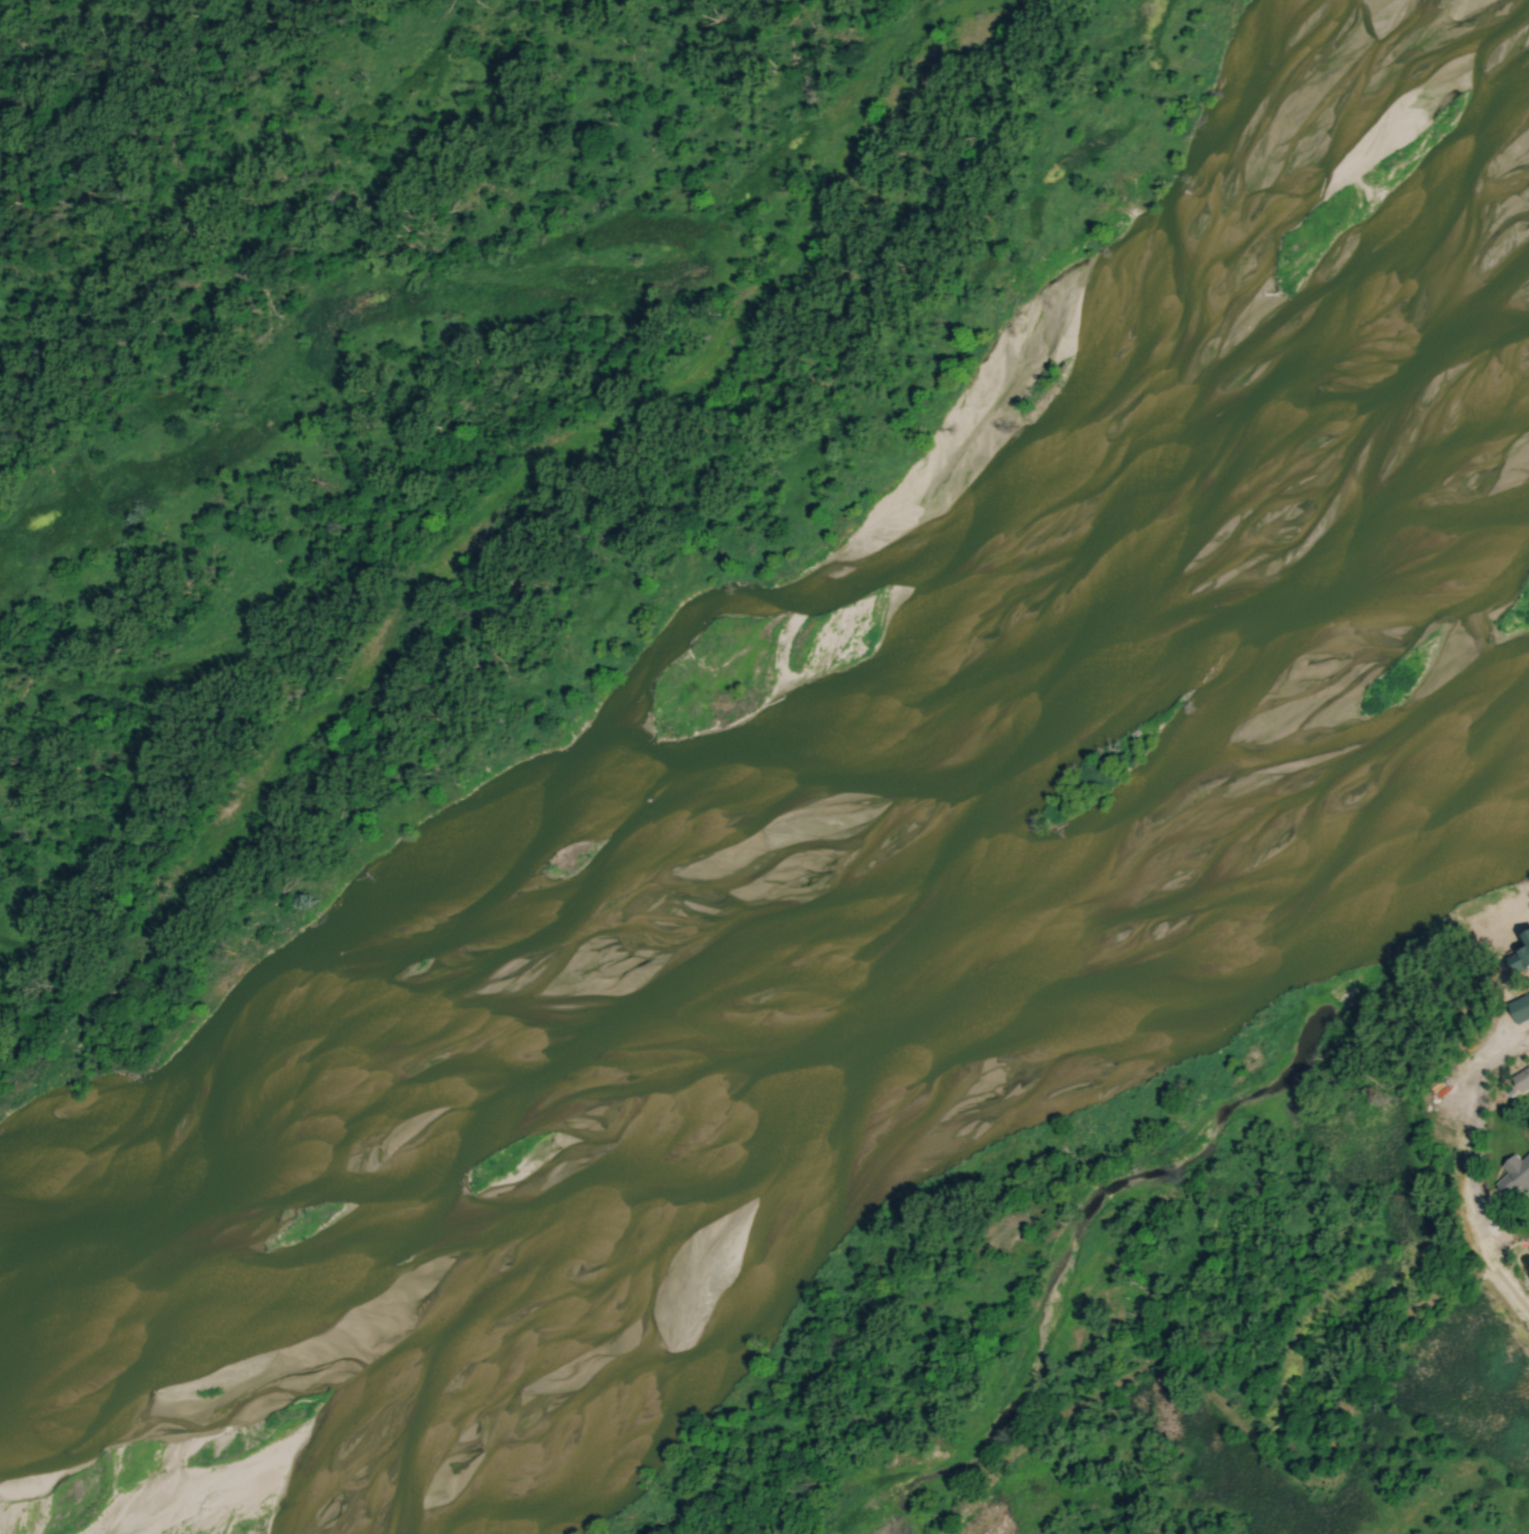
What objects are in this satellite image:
river: (837, 926)
building: (1524, 1080)
road: (1476, 1131)
building: (1516, 1177)
road: (1507, 1278)

